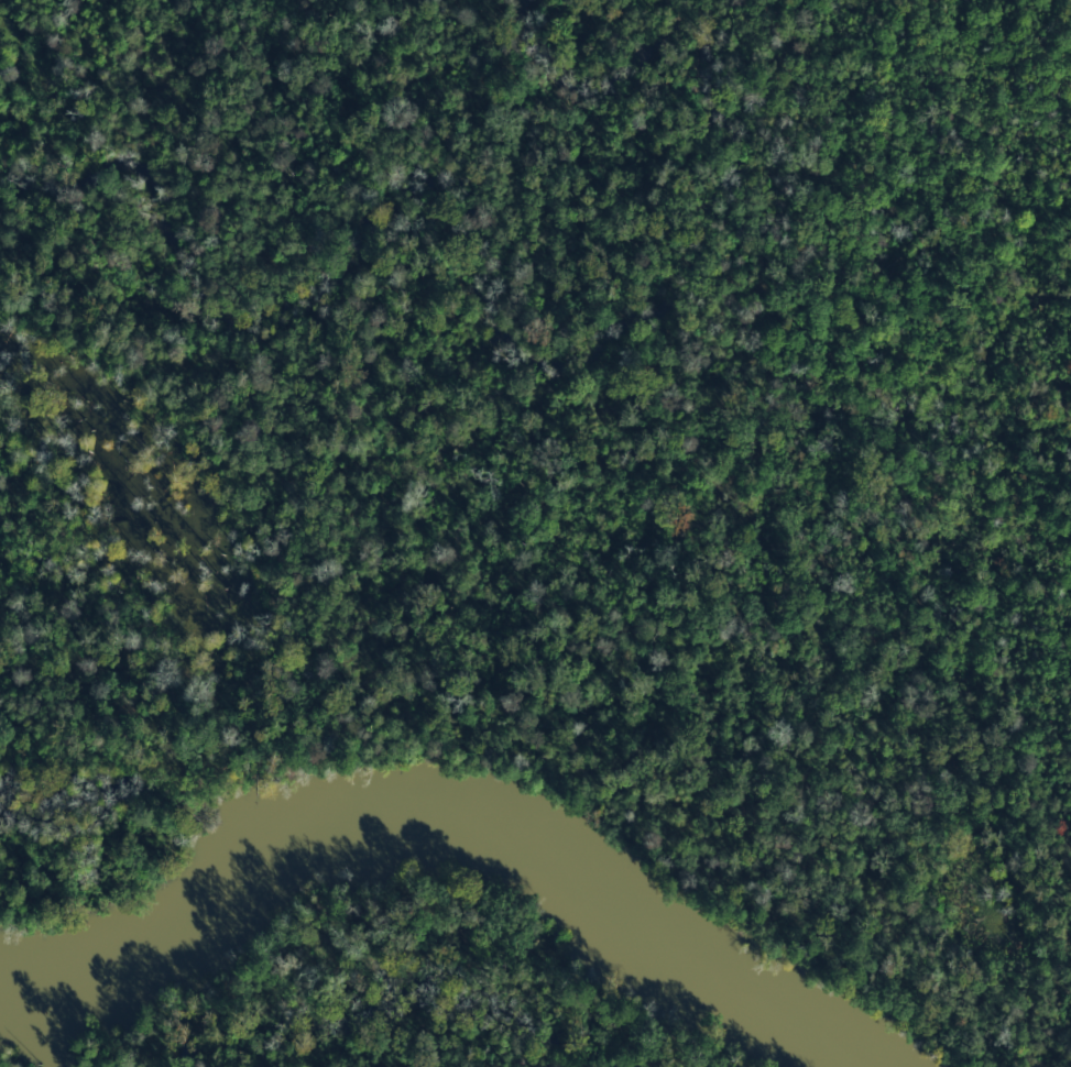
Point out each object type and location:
river: (450, 822)

